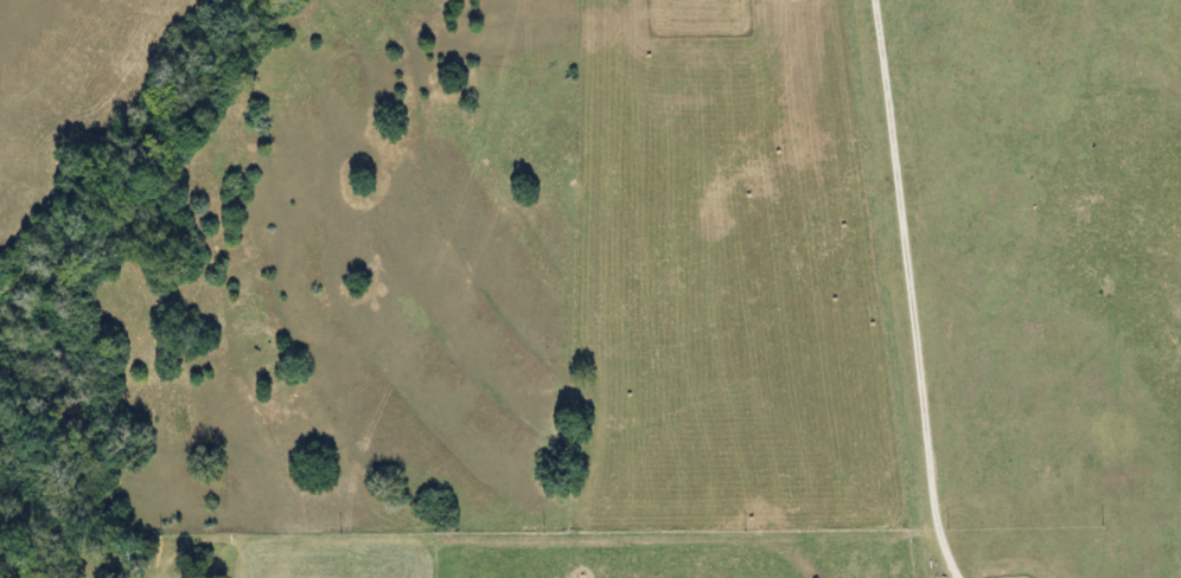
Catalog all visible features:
road: (904, 290)

